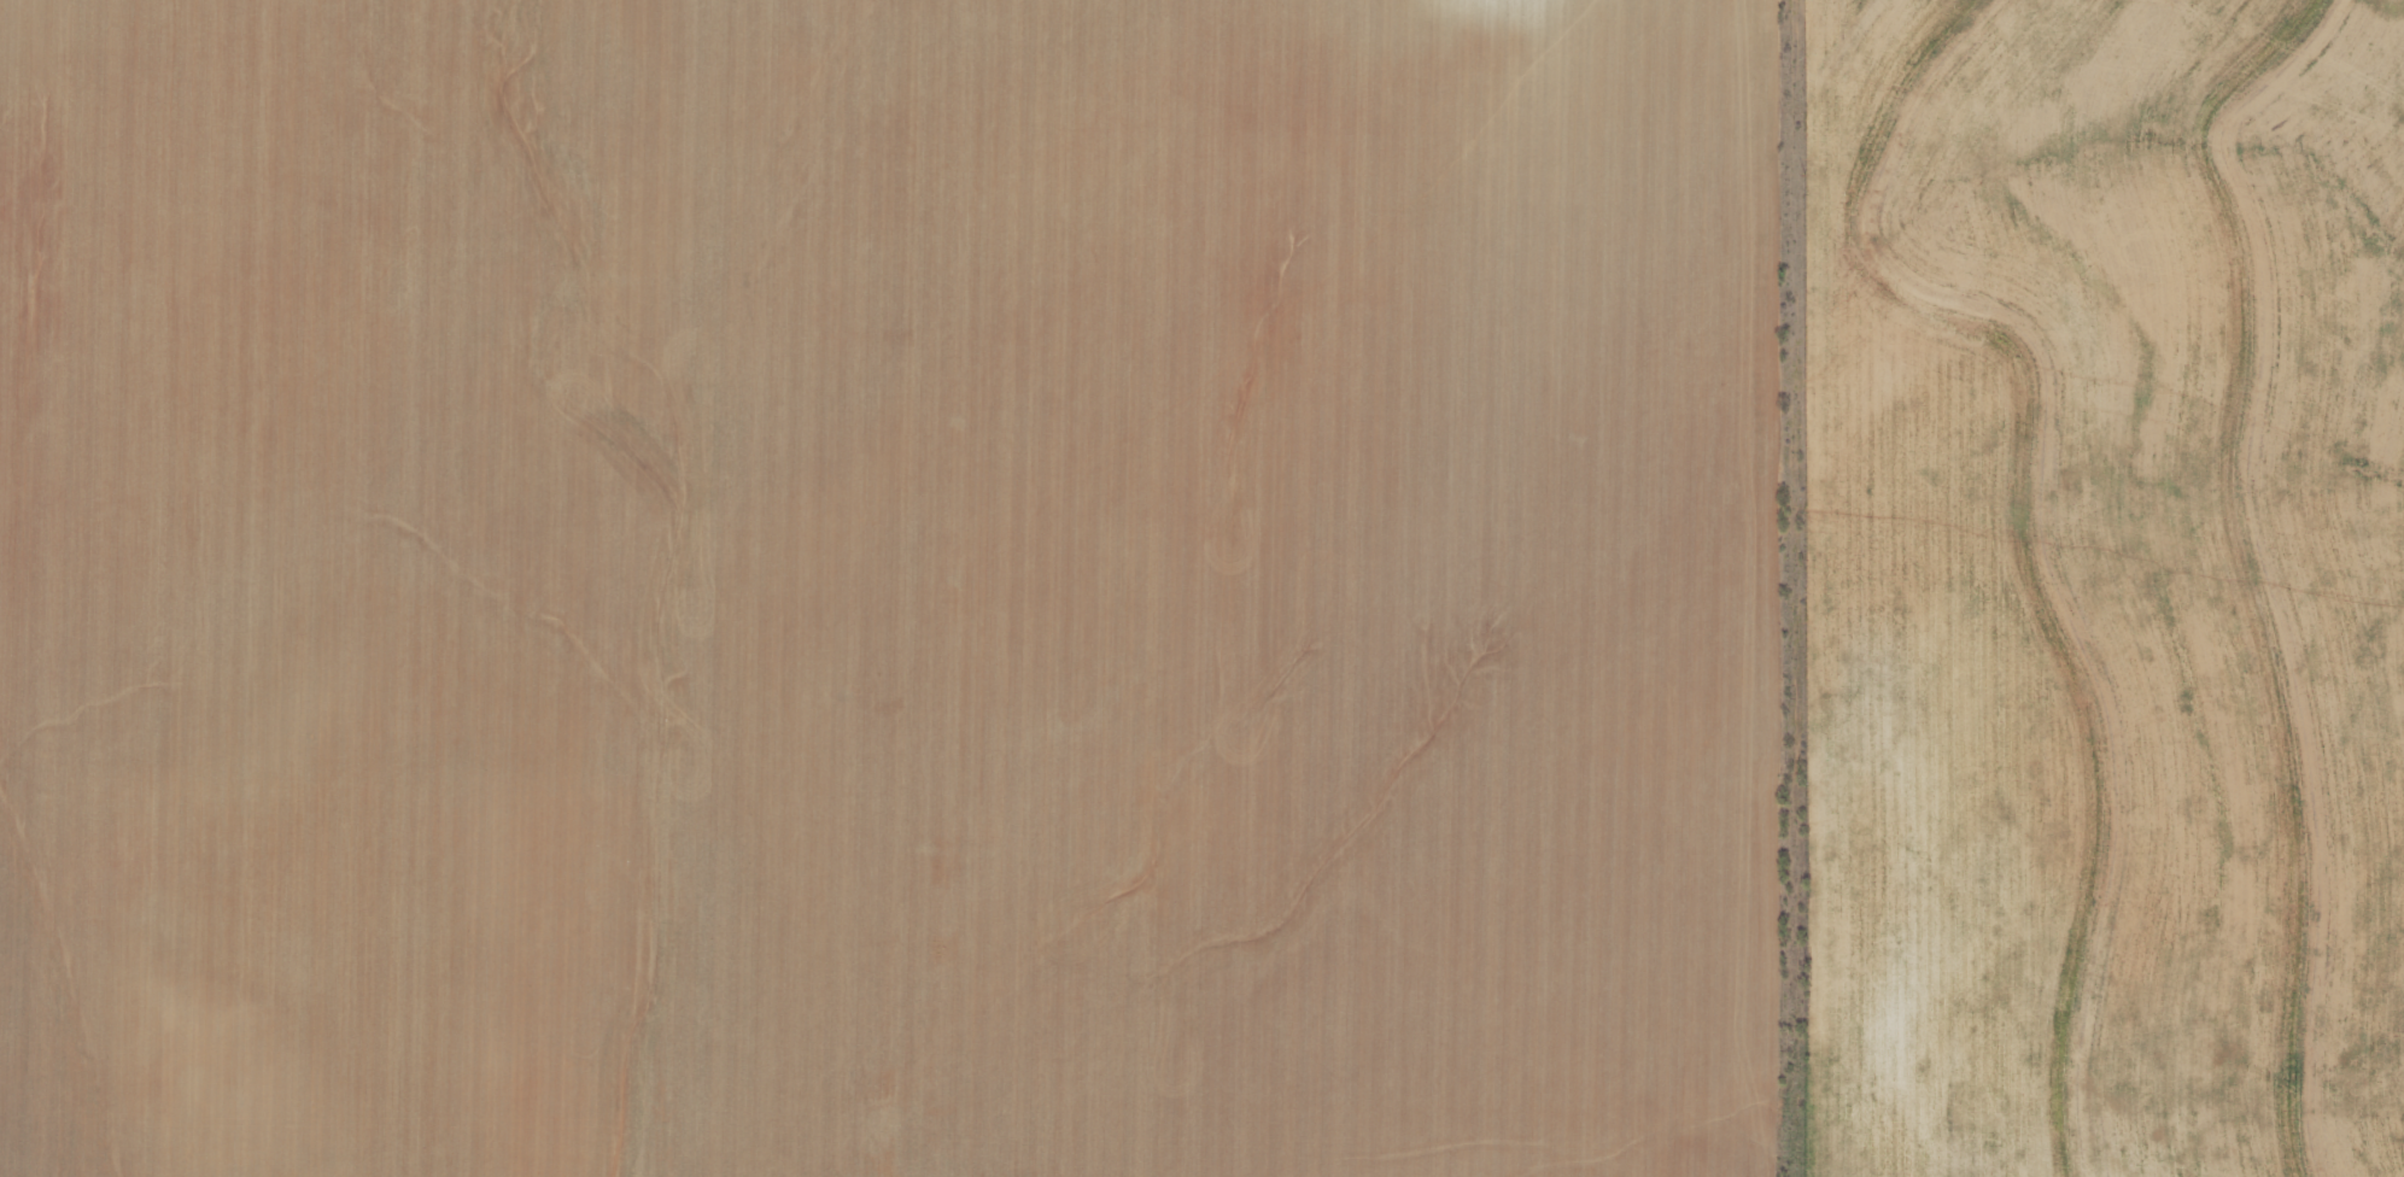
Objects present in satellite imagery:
road: (1748, 588)

